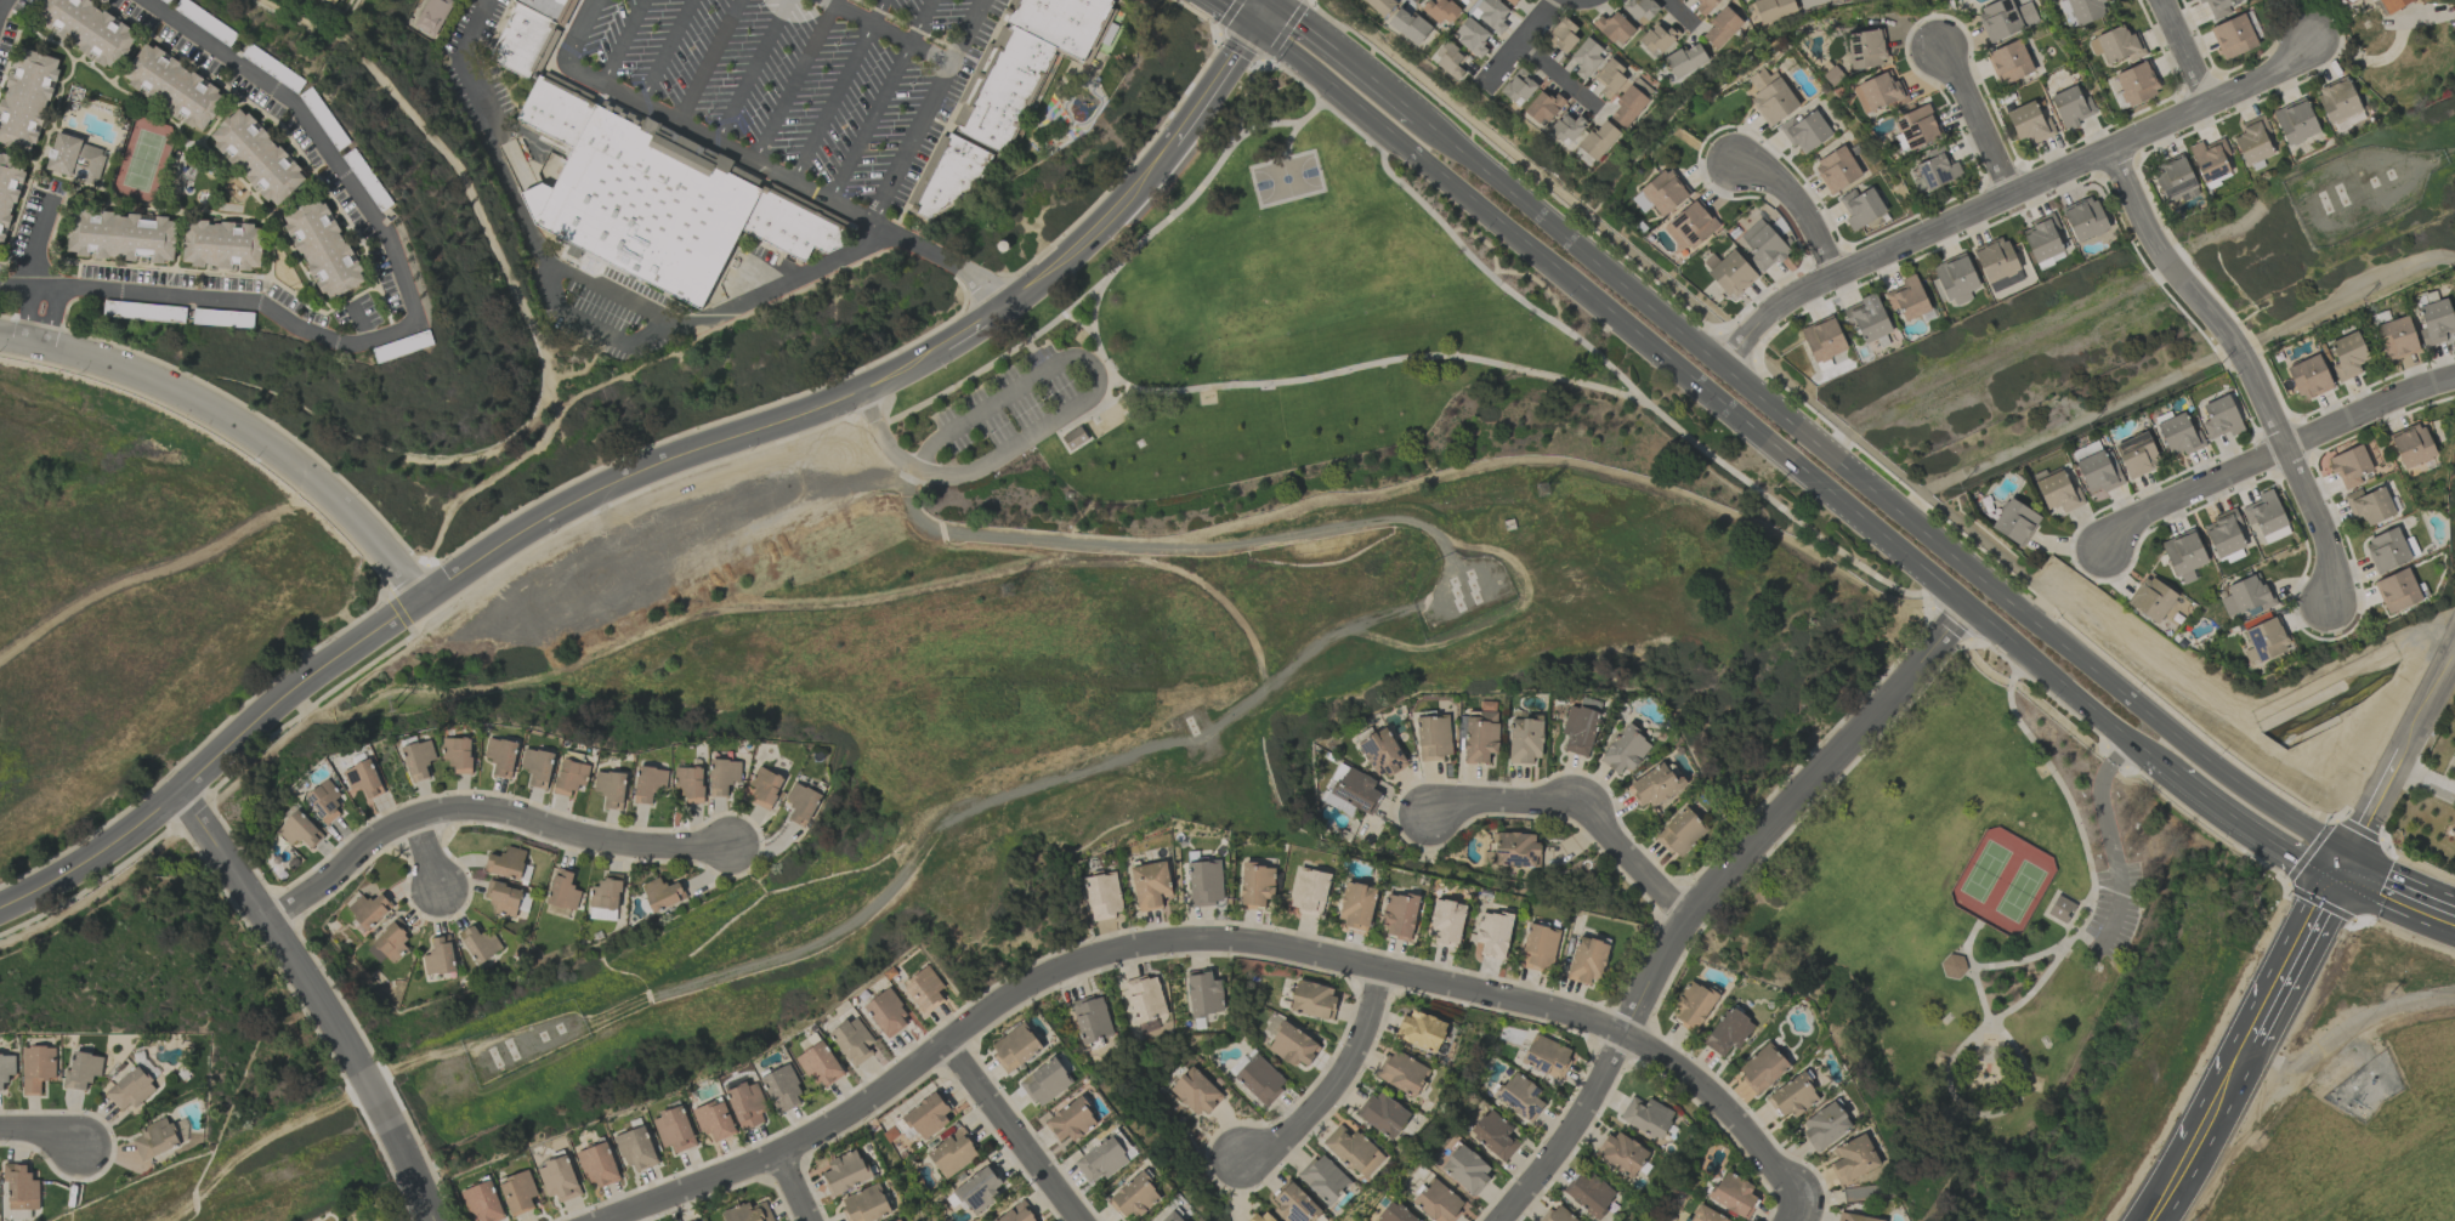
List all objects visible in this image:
building: (334, 0)
building: (1462, 1)
building: (1512, 1)
road: (1, 2)
road: (1268, 2)
road: (1272, 2)
building: (1812, 2)
traffic signals: (1271, 5)
building: (1380, 5)
building: (1703, 5)
building: (2391, 5)
building: (549, 7)
building: (2217, 7)
building: (1639, 10)
building: (1769, 10)
building: (2086, 10)
building: (1439, 11)
road: (1236, 13)
building: (1490, 15)
building: (432, 16)
road: (1263, 16)
road: (1679, 16)
building: (2005, 18)
building: (1065, 22)
building: (1407, 25)
traffic signals: (1255, 27)
building: (1614, 28)
building: (1720, 28)
building: (87, 29)
road: (891, 29)
building: (1563, 35)
building: (1470, 36)
building: (2233, 36)
building: (1656, 39)
building: (526, 41)
road: (623, 41)
road: (1523, 42)
building: (2115, 45)
rooftop solar panel: (1856, 47)
building: (1866, 49)
road: (668, 51)
road: (2184, 53)
building: (1587, 57)
road: (1345, 58)
rooftop solar panel: (1859, 58)
building: (1684, 59)
road: (710, 61)
building: (1448, 61)
building: (2008, 62)
road: (753, 70)
road: (1253, 72)
road: (1558, 79)
building: (1610, 79)
road: (798, 80)
building: (2136, 83)
building: (172, 86)
road: (1215, 87)
building: (1518, 87)
road: (1242, 89)
building: (1009, 90)
road: (839, 91)
building: (1877, 92)
road: (1311, 93)
building: (1770, 96)
building: (25, 98)
road: (881, 100)
building: (2337, 101)
road: (1322, 104)
building: (1627, 106)
building: (1542, 107)
building: (2071, 107)
building: (559, 113)
building: (2295, 121)
rooftop solar panel: (1904, 123)
road: (1975, 123)
building: (2029, 123)
road: (686, 125)
road: (1278, 125)
building: (1565, 129)
building: (1805, 131)
rooftop solar panel: (1910, 134)
road: (1288, 140)
building: (1598, 140)
building: (2252, 141)
rooftop solar panel: (1917, 142)
building: (256, 157)
building: (75, 158)
building: (2210, 160)
rooftop solar panel: (2206, 163)
building: (1937, 169)
building: (1836, 170)
rooftop solar panel: (2215, 174)
building: (956, 176)
rooftop solar panel: (1929, 177)
rooftop solar panel: (1944, 177)
park: (1287, 180)
building: (2173, 180)
road: (890, 182)
building: (8, 191)
building: (1661, 193)
road: (2009, 195)
building: (651, 208)
road: (1803, 208)
building: (1860, 208)
building: (2083, 218)
rooftop solar panel: (1682, 221)
road: (1162, 225)
building: (1691, 226)
road: (1098, 227)
building: (794, 228)
rooftop solar panel: (1689, 228)
building: (120, 235)
rooftop solar panel: (1695, 237)
building: (2042, 237)
road: (34, 240)
building: (222, 245)
building: (1763, 245)
building: (322, 248)
road: (594, 272)
building: (1731, 274)
building: (1955, 279)
rooftop solar panel: (2006, 282)
building: (1906, 299)
road: (34, 316)
building: (1866, 317)
road: (413, 318)
rooftop solar panel: (2386, 318)
building: (2434, 322)
road: (585, 324)
road: (1079, 324)
road: (969, 328)
road: (1095, 336)
building: (2396, 337)
building: (1822, 339)
building: (1877, 343)
building: (2347, 356)
road: (2246, 367)
road: (1525, 370)
building: (2308, 377)
road: (959, 382)
road: (1703, 387)
parking lot: (1005, 401)
road: (1076, 409)
building: (2219, 418)
road: (1064, 424)
road: (236, 426)
building: (2178, 436)
building: (1075, 438)
building: (2411, 445)
road: (2273, 454)
building: (2136, 455)
building: (2349, 466)
building: (2098, 471)
power tower: (1555, 484)
building: (2057, 492)
road: (1877, 495)
road: (1776, 504)
building: (2369, 505)
building: (2266, 517)
building: (2014, 522)
park: (1208, 526)
building: (2224, 533)
road: (1143, 544)
building: (2386, 550)
building: (2183, 555)
road: (146, 584)
power tower: (1017, 586)
road: (1206, 587)
road: (436, 589)
building: (2397, 591)
building: (2246, 595)
building: (2150, 598)
road: (726, 612)
road: (1370, 619)
rooftop solar panel: (2257, 641)
building: (2264, 641)
road: (2454, 647)
power tower: (386, 702)
building: (1578, 729)
building: (1480, 737)
building: (1434, 738)
building: (1525, 740)
rooftop solar panel: (1371, 746)
building: (1623, 750)
building: (458, 754)
building: (1380, 754)
road: (2398, 755)
building: (500, 756)
building: (418, 759)
road: (2162, 763)
building: (537, 767)
road: (2409, 768)
building: (722, 776)
building: (569, 777)
building: (363, 778)
road: (2438, 780)
building: (648, 784)
building: (688, 784)
building: (1655, 785)
building: (764, 786)
road: (1268, 786)
building: (610, 788)
building: (1350, 790)
rooftop solar panel: (1354, 796)
rooftop solar panel: (316, 800)
building: (324, 801)
building: (800, 803)
rooftop solar panel: (333, 806)
road: (1578, 810)
road: (483, 812)
rooftop solar panel: (324, 813)
building: (299, 830)
road: (2253, 831)
building: (1680, 833)
road: (2109, 836)
building: (1515, 850)
rooftop solar panel: (1503, 852)
rooftop solar panel: (1533, 857)
road: (429, 858)
rooftop solar panel: (1519, 861)
road: (2102, 861)
building: (505, 863)
park: (1985, 871)
road: (2091, 874)
building: (1204, 882)
building: (1150, 885)
building: (1255, 885)
building: (562, 890)
building: (1309, 890)
road: (2399, 891)
park: (2020, 892)
building: (660, 893)
road: (1706, 893)
building: (1102, 896)
building: (503, 897)
building: (605, 898)
building: (1355, 904)
building: (2062, 909)
parking lot: (2115, 910)
building: (367, 912)
building: (1399, 915)
building: (1445, 921)
building: (1492, 933)
road: (1207, 941)
building: (389, 943)
building: (480, 944)
building: (1538, 948)
park: (2002, 948)
road: (2297, 953)
road: (646, 954)
road: (775, 955)
building: (438, 956)
building: (1587, 960)
building: (1952, 966)
building: (923, 989)
building: (1204, 995)
building: (1145, 998)
building: (1312, 999)
road: (314, 1001)
building: (1693, 1005)
road: (2014, 1007)
building: (886, 1013)
building: (1090, 1020)
building: (1421, 1030)
building: (1729, 1032)
building: (852, 1040)
building: (1292, 1045)
building: (1015, 1047)
building: (1546, 1056)
building: (820, 1064)
building: (6, 1068)
building: (36, 1068)
building: (1762, 1068)
building: (81, 1070)
building: (1402, 1073)
building: (1259, 1079)
building: (1045, 1081)
road: (1337, 1084)
building: (130, 1089)
building: (782, 1089)
building: (1195, 1091)
building: (1519, 1096)
building: (1792, 1097)
road: (2219, 1100)
rooftop solar panel: (1510, 1102)
building: (747, 1104)
rooftop solar panel: (1538, 1111)
building: (1383, 1114)
road: (1985, 1114)
building: (926, 1117)
building: (1645, 1117)
building: (714, 1120)
building: (1071, 1120)
building: (1825, 1125)
building: (674, 1129)
road: (1014, 1131)
road: (40, 1135)
building: (1495, 1136)
building: (155, 1138)
building: (636, 1149)
building: (1351, 1149)
building: (952, 1153)
building: (1621, 1153)
building: (1101, 1159)
building: (1853, 1159)
building: (599, 1165)
building: (1465, 1169)
building: (845, 1172)
building: (559, 1179)
building: (1322, 1179)
building: (21, 1187)
road: (795, 1187)
building: (979, 1189)
road: (2168, 1189)
building: (517, 1192)
building: (1588, 1193)
building: (1733, 1194)
building: (1135, 1197)
rooftop solar panel: (977, 1200)
rooftop solar panel: (1283, 1200)
building: (483, 1202)
building: (1291, 1202)
building: (1438, 1202)
building: (866, 1204)
rooftop solar panel: (1308, 1208)
building: (747, 1213)
road: (1791, 1213)
building: (1016, 1214)
building: (1394, 1214)
building: (1557, 1214)
building: (1705, 1215)
building: (1170, 1216)
building: (1261, 1216)
building: (1853, 1217)
rooftop solar panel: (1299, 1219)
building: (897, 1220)

